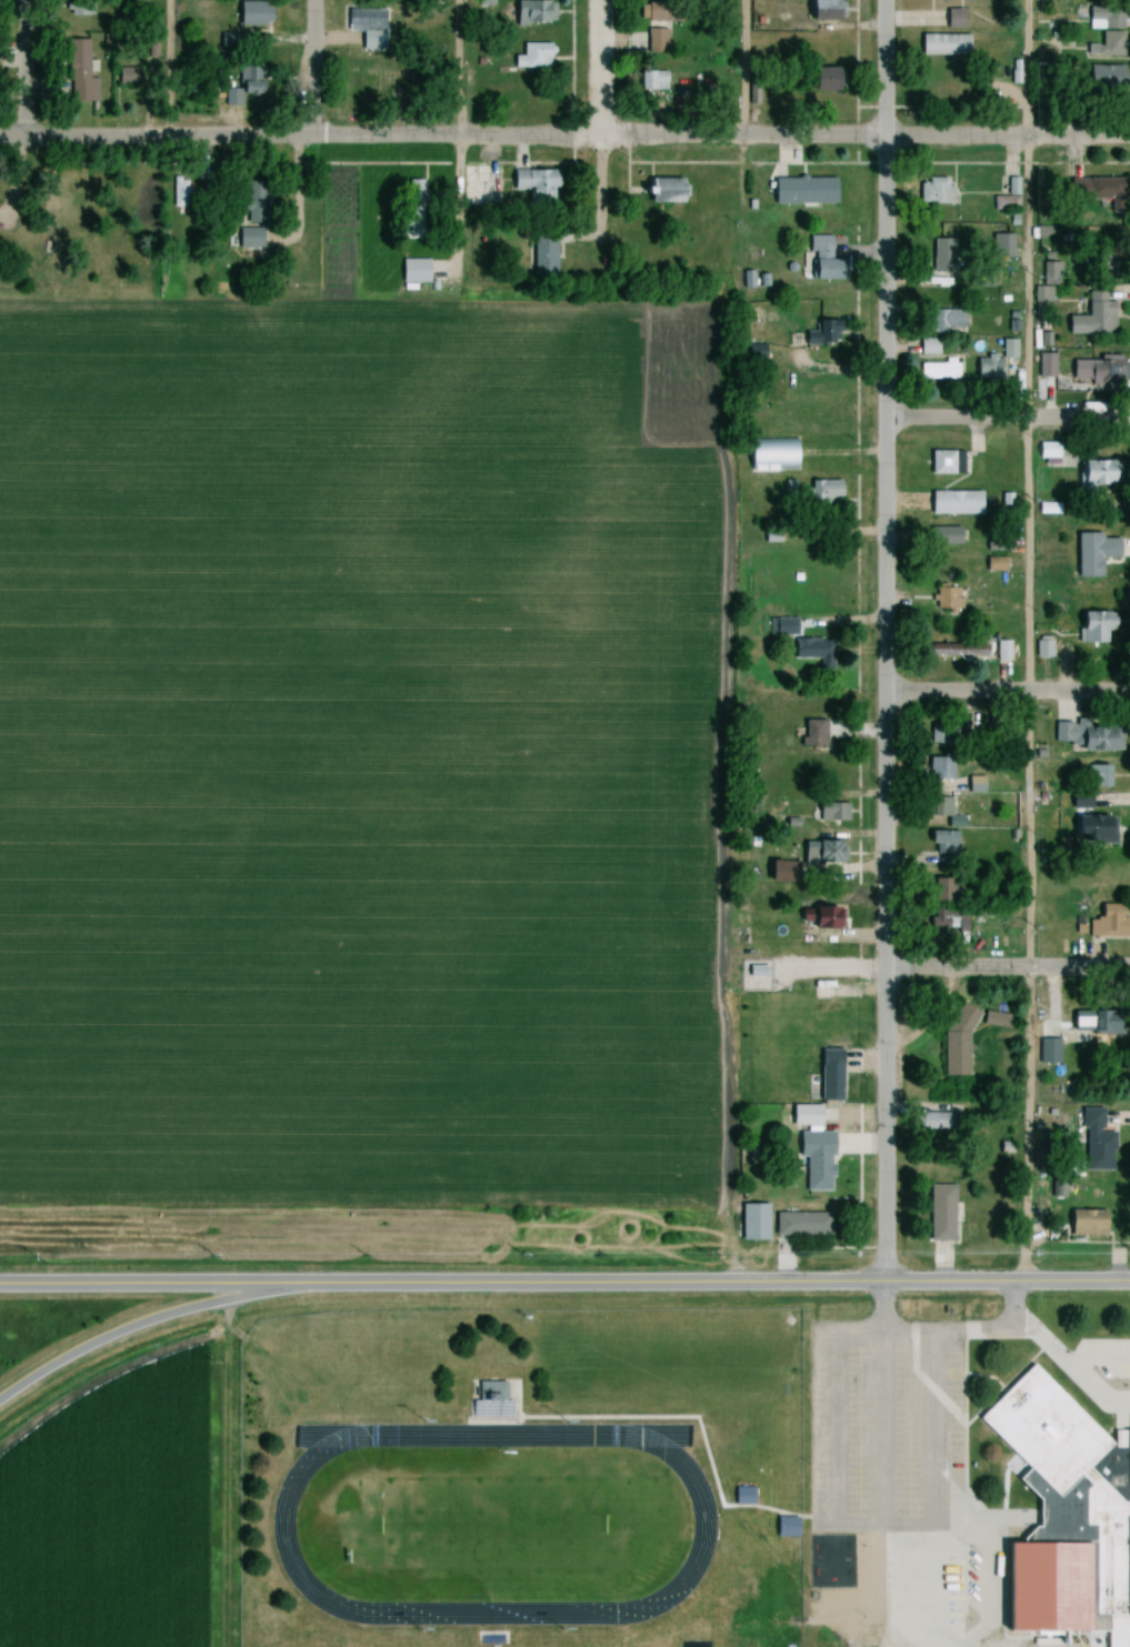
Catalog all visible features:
building: (86, 8)
building: (540, 12)
building: (669, 12)
building: (261, 14)
building: (1102, 17)
building: (954, 19)
building: (373, 29)
building: (662, 42)
building: (941, 46)
building: (1104, 48)
building: (538, 56)
road: (167, 68)
road: (309, 68)
road: (459, 68)
road: (599, 68)
road: (738, 68)
road: (23, 69)
building: (86, 73)
building: (834, 80)
building: (1103, 80)
building: (654, 81)
building: (756, 93)
building: (237, 98)
road: (564, 137)
building: (487, 185)
building: (541, 185)
building: (804, 189)
building: (1097, 190)
building: (673, 191)
building: (934, 192)
road: (600, 197)
building: (1007, 199)
building: (259, 202)
road: (459, 203)
building: (254, 238)
building: (999, 245)
building: (549, 253)
building: (818, 258)
building: (941, 260)
building: (416, 268)
building: (1049, 271)
building: (1090, 318)
building: (948, 321)
building: (823, 334)
building: (926, 348)
building: (1007, 350)
building: (1044, 365)
building: (987, 369)
building: (938, 371)
building: (1092, 372)
road: (1006, 418)
building: (1044, 451)
building: (774, 454)
building: (944, 464)
building: (1093, 474)
road: (882, 483)
building: (790, 490)
building: (823, 493)
building: (958, 501)
building: (946, 536)
building: (1092, 554)
building: (992, 565)
building: (946, 601)
building: (781, 627)
building: (1089, 629)
road: (1026, 642)
building: (1042, 646)
building: (811, 651)
building: (957, 651)
building: (1000, 652)
road: (1006, 691)
building: (811, 733)
building: (1084, 736)
building: (941, 737)
crop: (358, 753)
building: (939, 769)
building: (1098, 776)
building: (1078, 802)
building: (937, 807)
building: (831, 813)
building: (1090, 831)
building: (941, 840)
building: (821, 856)
building: (777, 872)
building: (943, 890)
building: (818, 921)
building: (949, 921)
building: (1107, 924)
road: (1006, 967)
building: (992, 1021)
building: (1088, 1023)
building: (956, 1043)
building: (1046, 1052)
building: (827, 1076)
building: (803, 1117)
building: (930, 1122)
road: (881, 1125)
building: (1093, 1142)
building: (814, 1161)
building: (939, 1214)
building: (800, 1225)
building: (1084, 1225)
road: (719, 1285)
road: (154, 1286)
road: (880, 1309)
road: (138, 1325)
road: (1057, 1355)
road: (830, 1385)
building: (499, 1392)
road: (939, 1430)
building: (1078, 1476)
building: (748, 1495)
crop: (112, 1517)
park: (491, 1526)
building: (791, 1527)
road: (1060, 1565)

